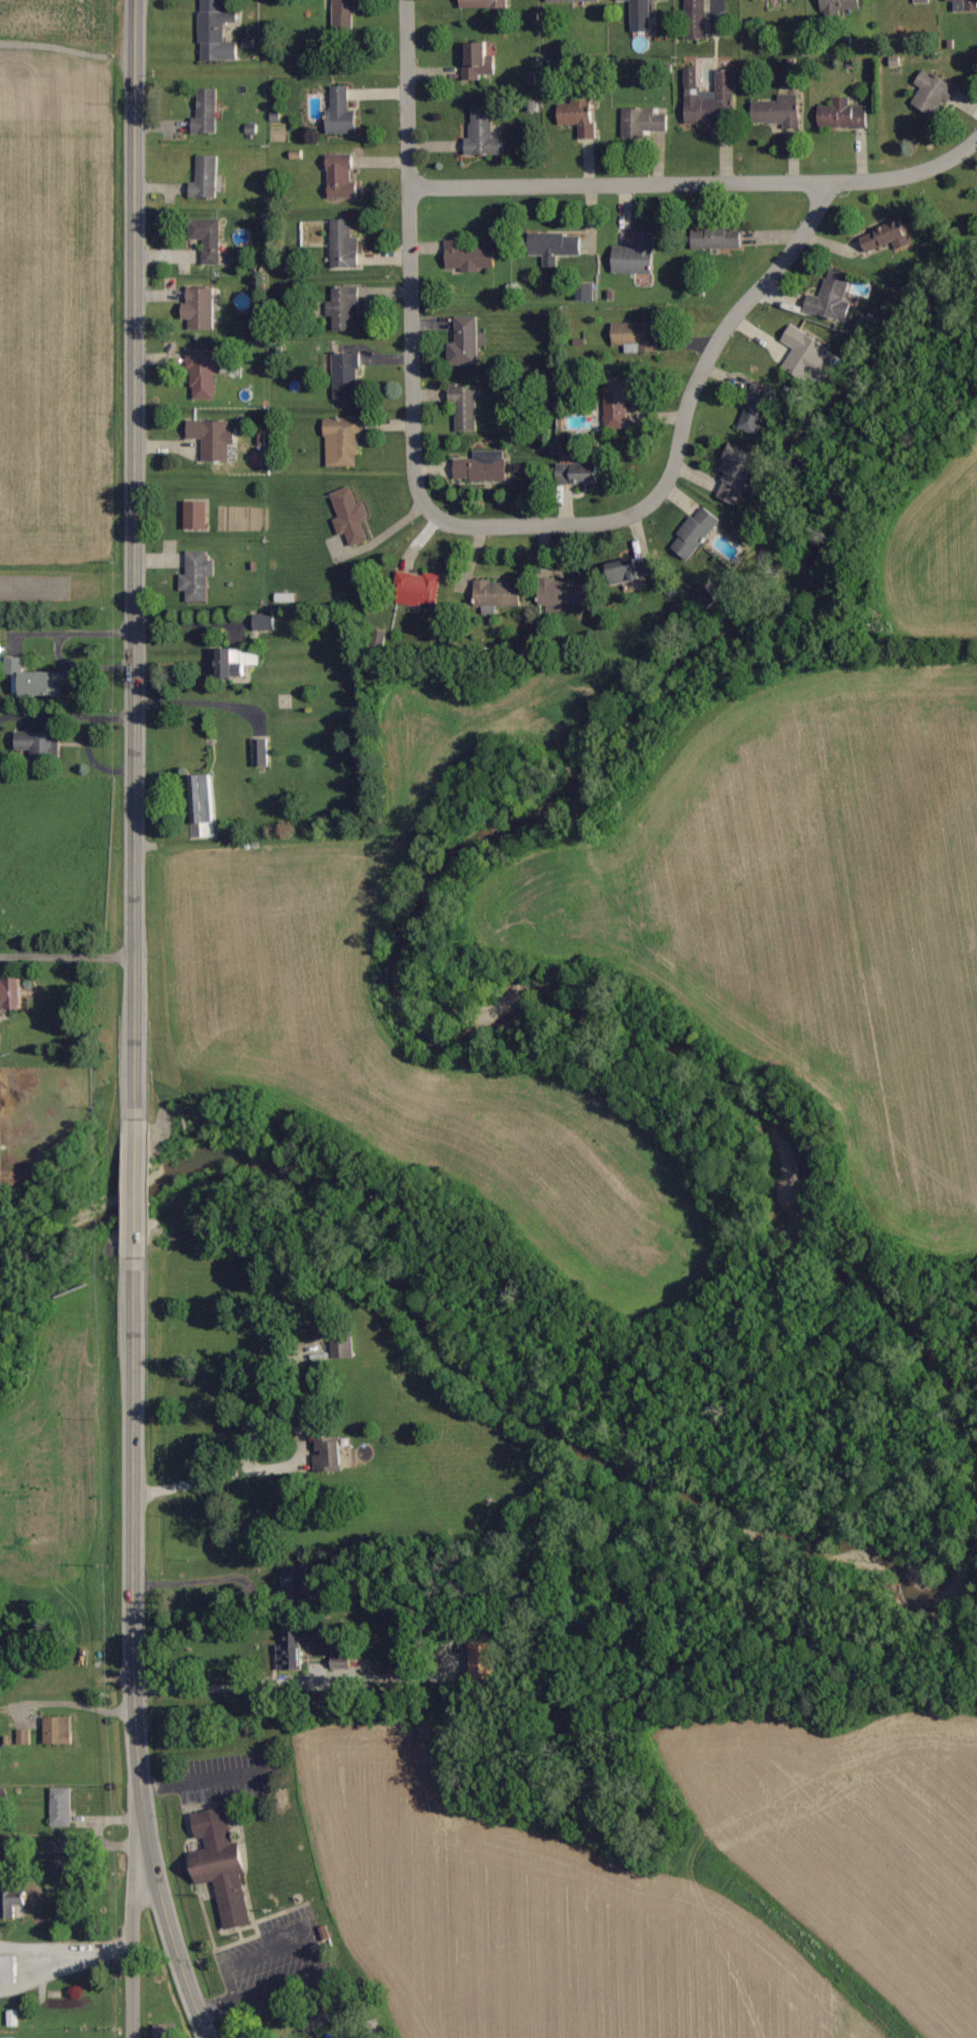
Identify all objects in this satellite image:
building: (570, 0)
building: (922, 1)
building: (484, 4)
building: (969, 4)
building: (695, 5)
building: (839, 6)
building: (640, 15)
building: (344, 16)
building: (698, 26)
building: (217, 32)
building: (478, 62)
building: (933, 93)
building: (710, 101)
building: (780, 111)
building: (206, 113)
building: (342, 113)
building: (843, 115)
building: (579, 117)
building: (642, 123)
building: (483, 134)
building: (342, 177)
building: (206, 179)
road: (694, 185)
building: (887, 237)
building: (719, 238)
building: (209, 240)
building: (344, 246)
building: (555, 247)
building: (636, 255)
building: (469, 258)
building: (587, 292)
building: (832, 297)
building: (344, 306)
building: (200, 307)
building: (634, 336)
building: (464, 341)
building: (806, 354)
building: (204, 373)
building: (346, 375)
building: (618, 402)
building: (465, 407)
building: (757, 408)
building: (213, 438)
building: (343, 440)
building: (483, 466)
building: (737, 472)
building: (579, 473)
building: (197, 514)
building: (351, 516)
road: (473, 520)
building: (696, 532)
building: (633, 568)
building: (198, 576)
building: (417, 588)
road: (32, 589)
building: (498, 593)
building: (563, 594)
building: (265, 621)
building: (238, 661)
building: (35, 679)
building: (37, 742)
building: (261, 752)
building: (202, 830)
road: (65, 951)
building: (12, 993)
road: (130, 1024)
building: (1, 1159)
building: (344, 1344)
building: (298, 1582)
building: (292, 1651)
building: (485, 1662)
building: (58, 1731)
building: (24, 1737)
building: (62, 1807)
building: (63, 1859)
building: (223, 1866)
road: (136, 1901)
building: (12, 1904)
road: (65, 1969)
building: (9, 1970)
road: (130, 1993)
building: (164, 2031)

